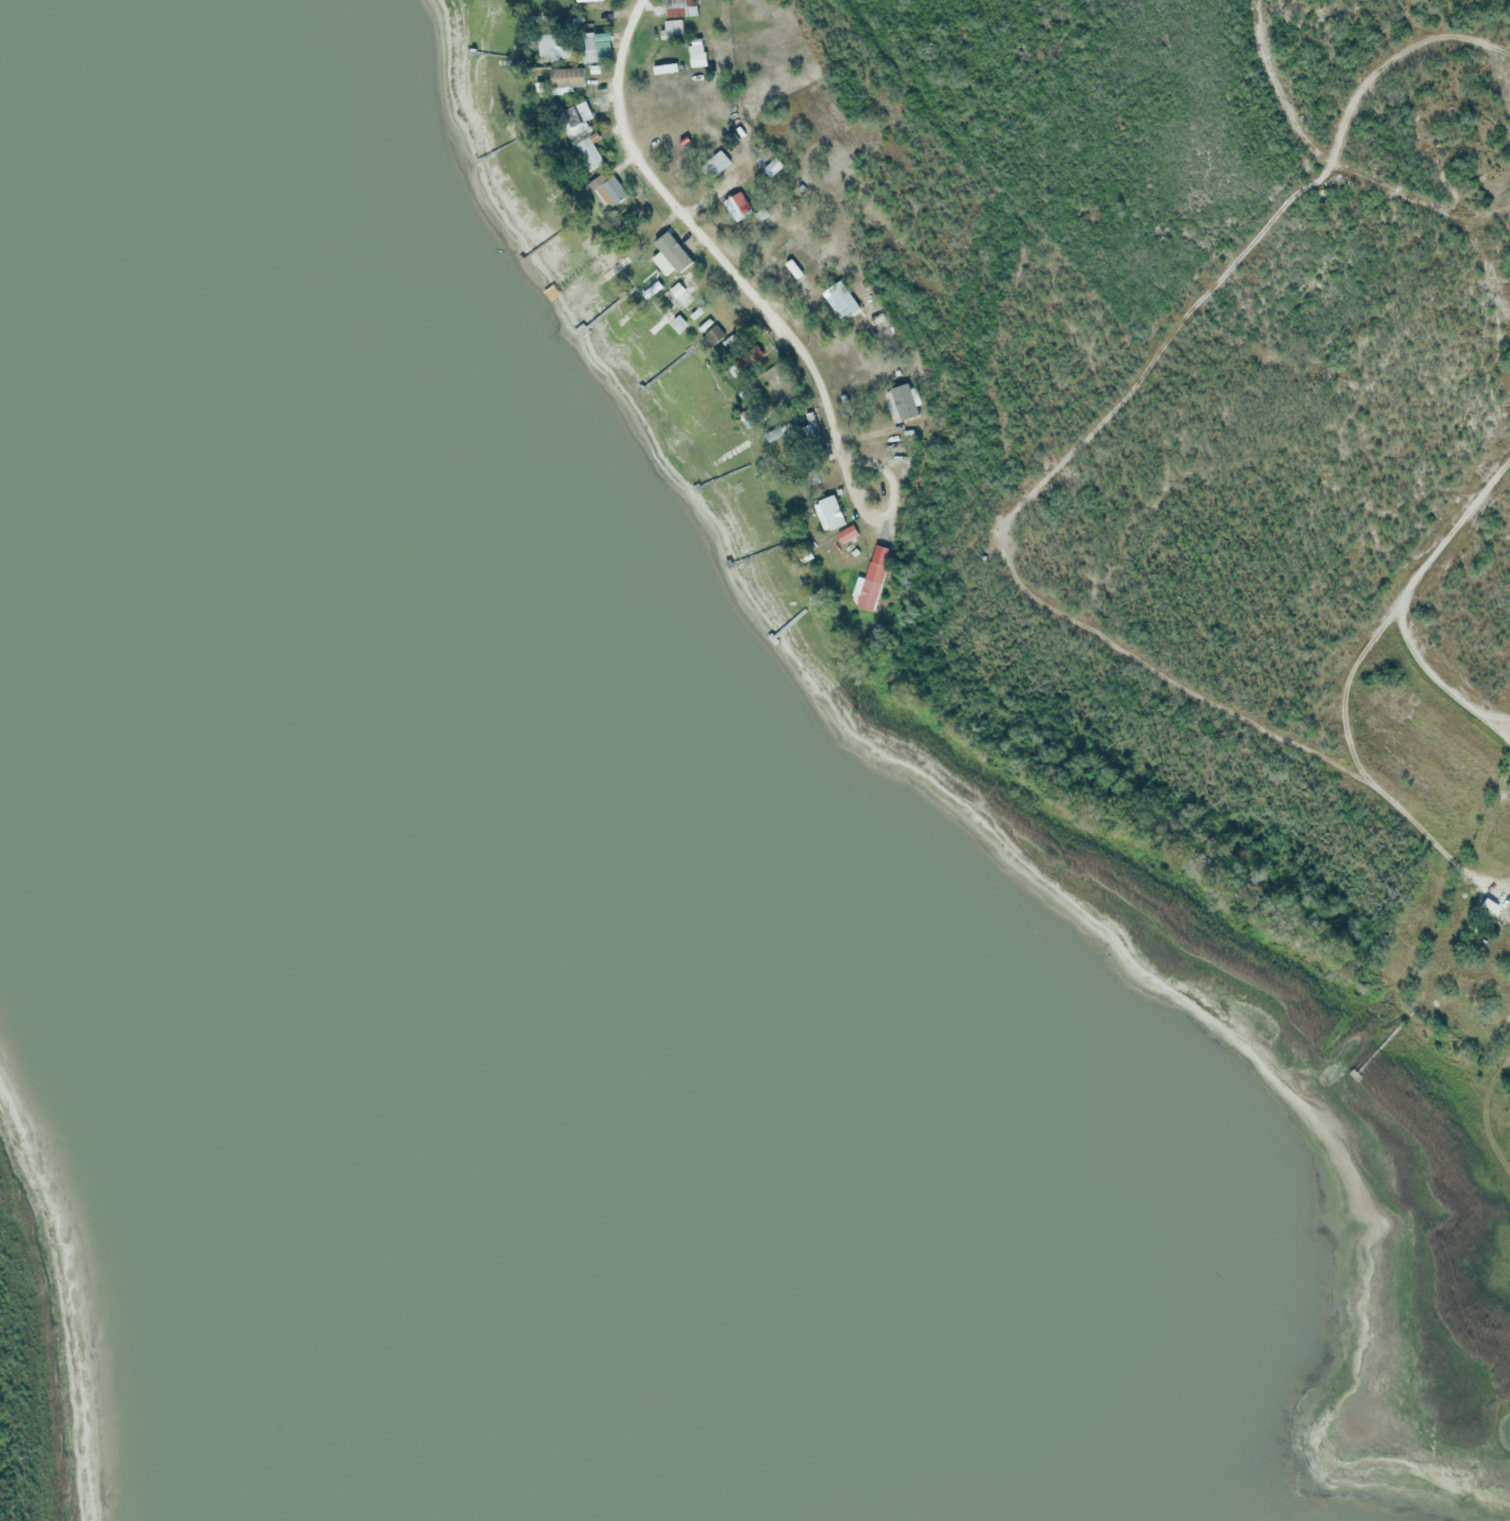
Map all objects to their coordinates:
building: (601, 6)
building: (682, 7)
building: (673, 27)
building: (554, 46)
building: (605, 46)
building: (588, 47)
building: (696, 52)
building: (565, 76)
building: (574, 117)
building: (586, 153)
building: (718, 161)
road: (1344, 161)
building: (771, 166)
building: (1497, 185)
building: (612, 189)
building: (739, 200)
building: (673, 251)
road: (726, 258)
building: (793, 268)
building: (683, 291)
building: (840, 299)
building: (695, 313)
building: (679, 322)
building: (704, 324)
building: (712, 334)
building: (737, 351)
building: (748, 358)
building: (774, 384)
building: (903, 400)
building: (897, 412)
building: (828, 512)
building: (845, 533)
building: (873, 577)
building: (1491, 908)

